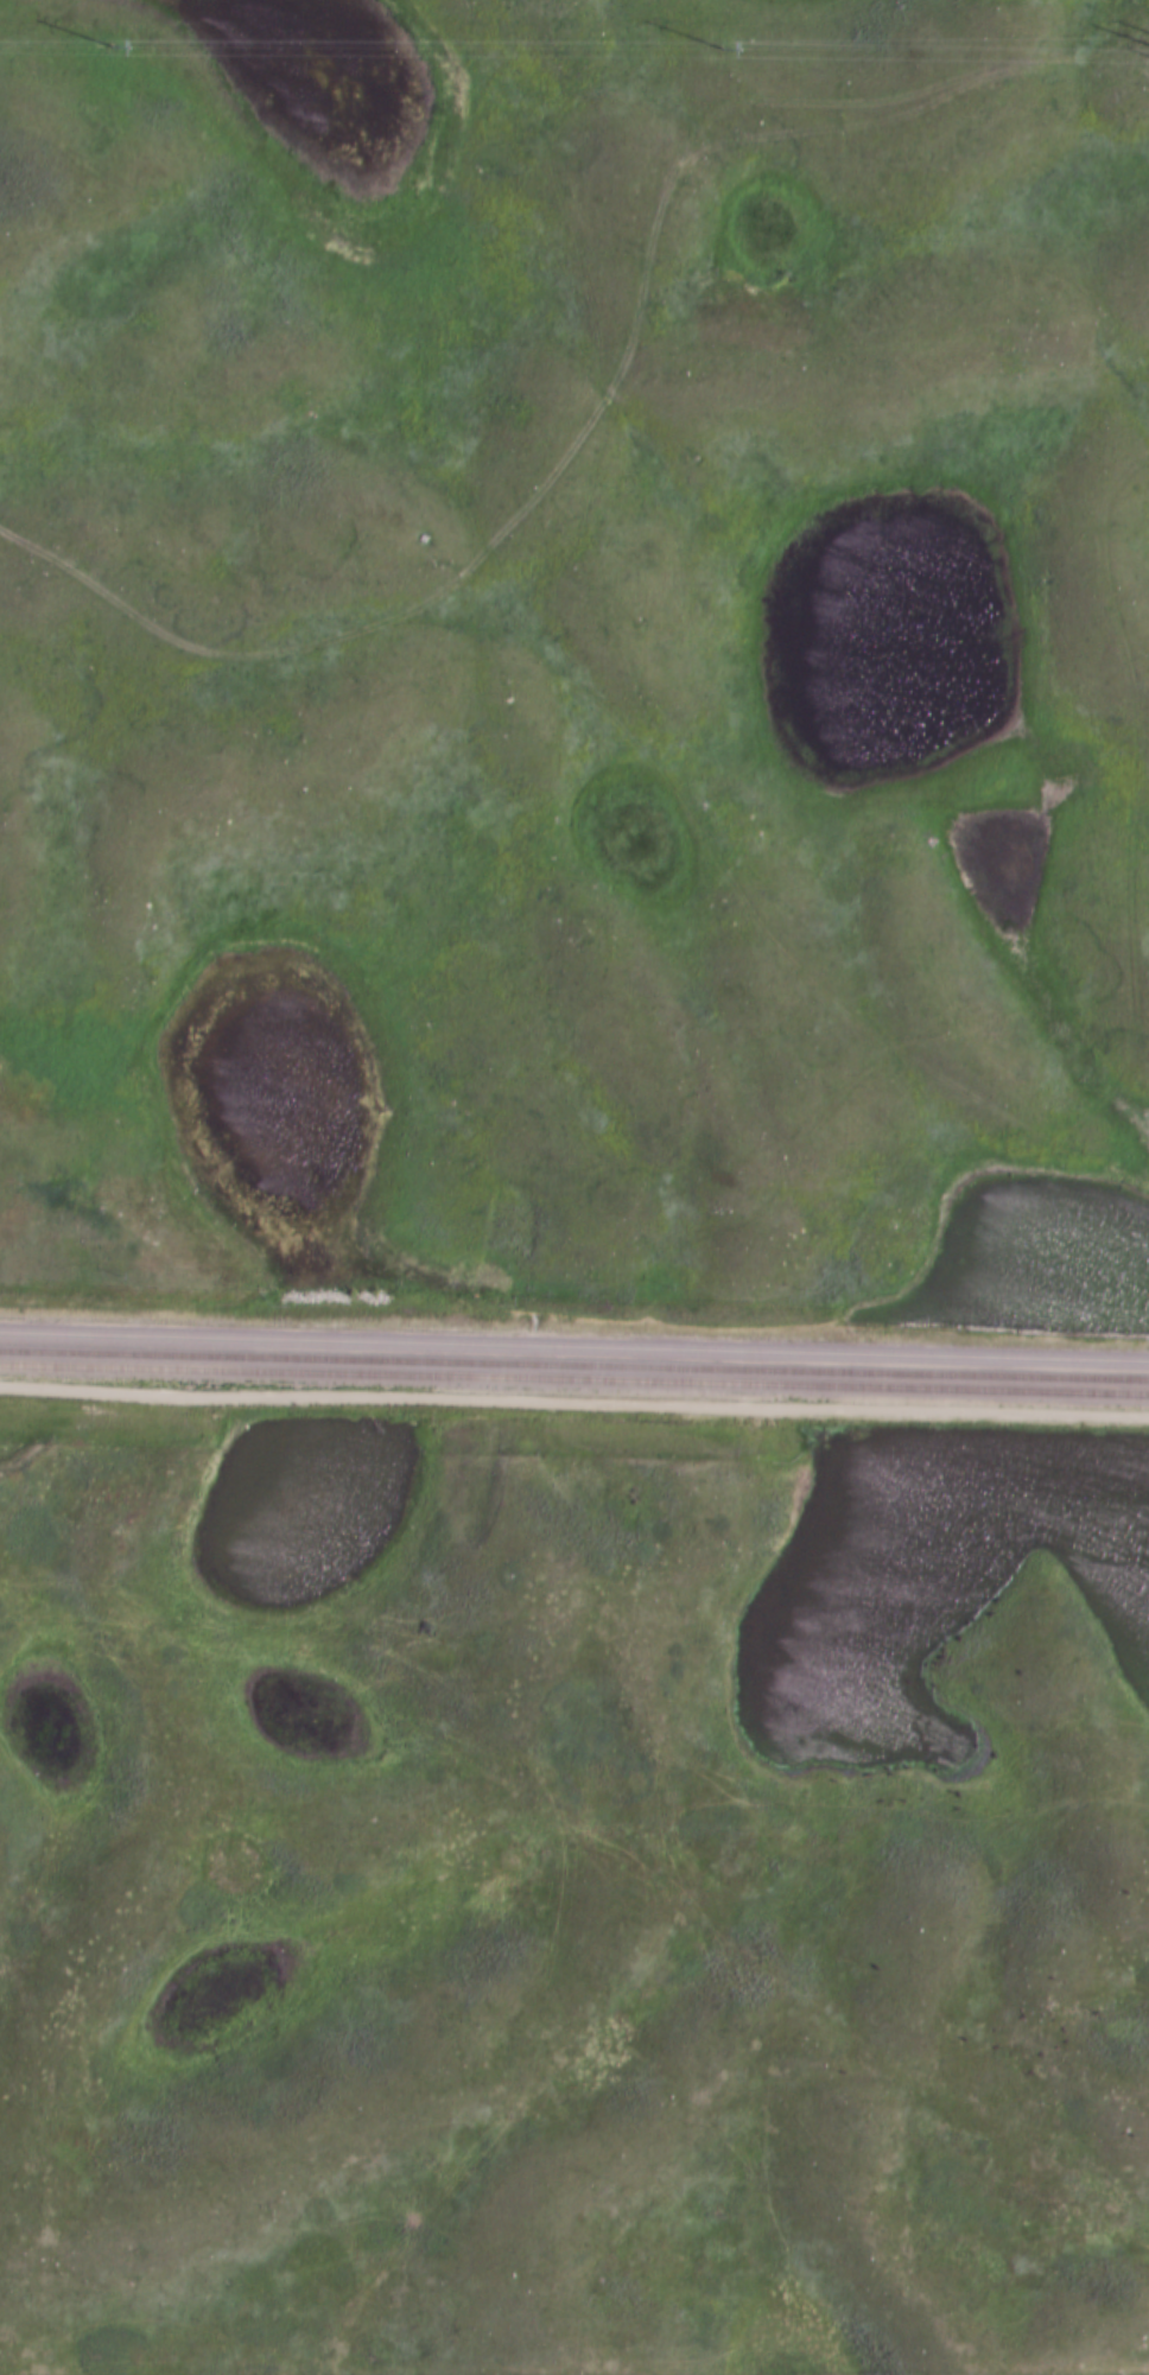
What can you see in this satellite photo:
railway: (574, 1352)
railway: (574, 1366)
railway: (574, 1382)
road: (573, 1408)
road: (407, 2129)

